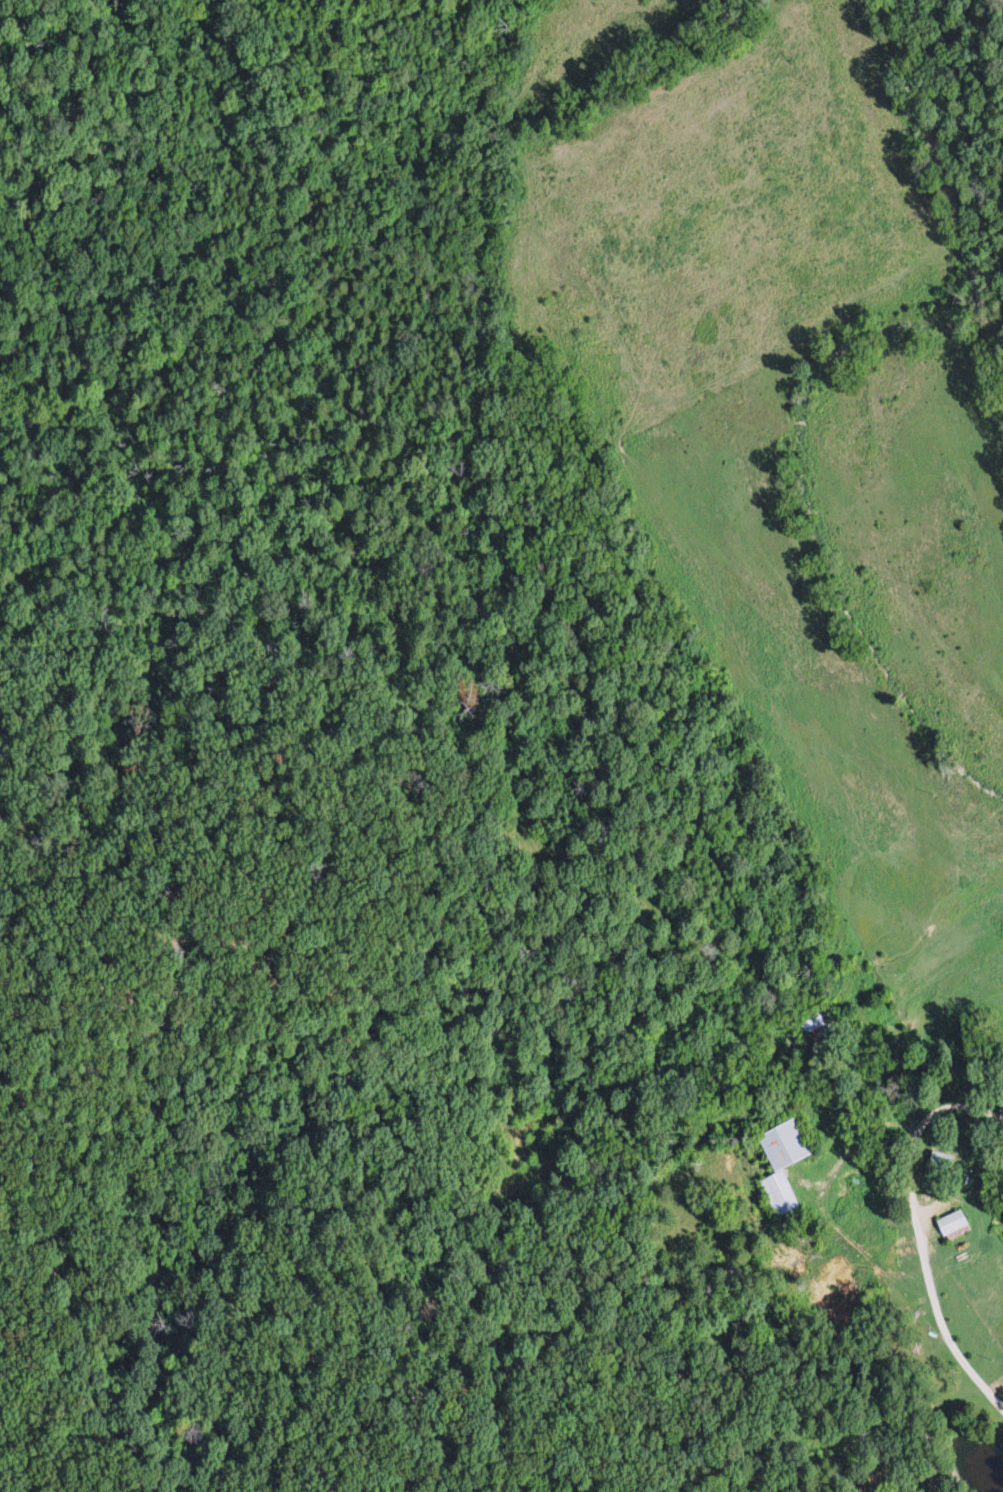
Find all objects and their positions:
road: (934, 190)
road: (892, 1013)
building: (812, 1022)
road: (879, 1126)
building: (785, 1145)
building: (941, 1163)
road: (930, 1185)
building: (774, 1194)
parking lot: (938, 1208)
building: (952, 1223)
road: (924, 1282)

